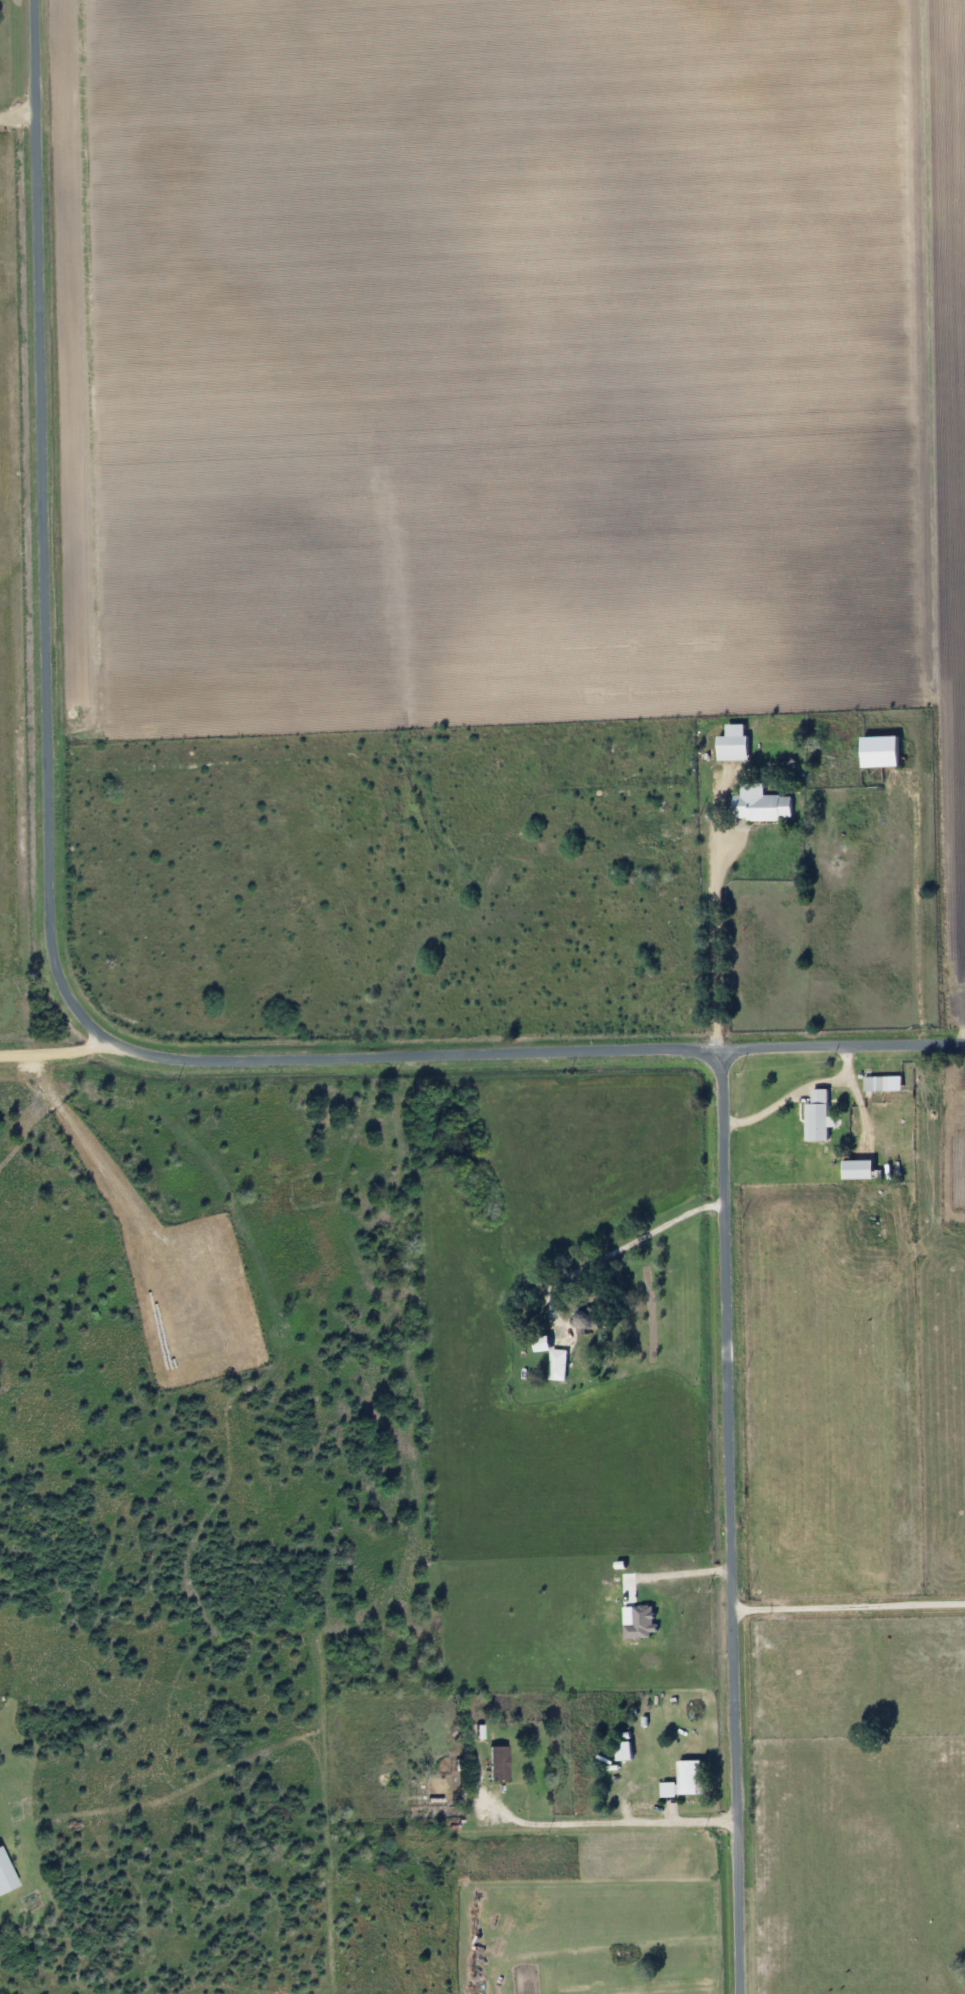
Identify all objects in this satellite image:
road: (16, 115)
building: (734, 750)
building: (755, 805)
road: (719, 933)
road: (837, 1047)
road: (53, 1053)
road: (349, 1057)
building: (883, 1084)
building: (818, 1117)
building: (859, 1169)
road: (618, 1256)
building: (586, 1320)
building: (558, 1365)
road: (850, 1606)
building: (624, 1752)
building: (496, 1764)
building: (678, 1782)
road: (619, 1818)

